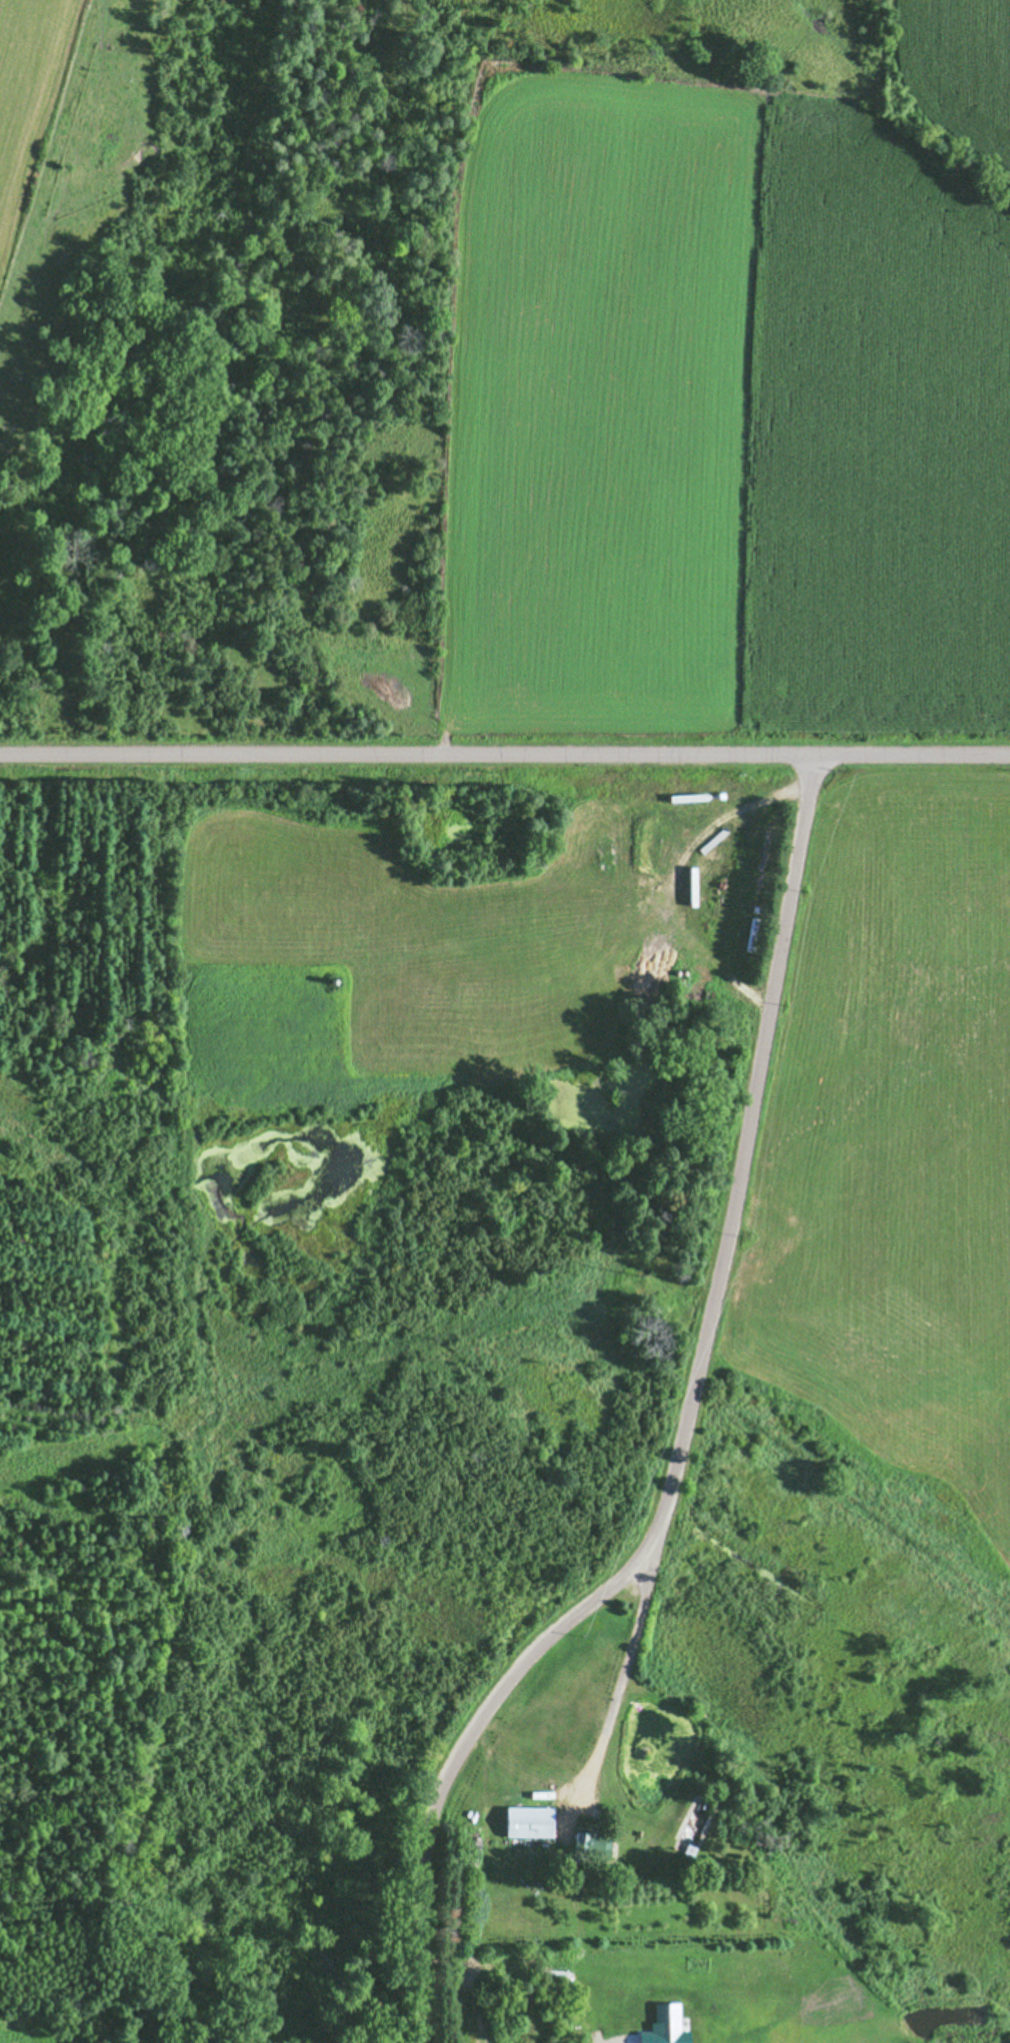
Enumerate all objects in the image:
building: (109, 136)
road: (504, 752)
road: (681, 1435)
road: (621, 1681)
building: (528, 1822)
building: (586, 1845)

